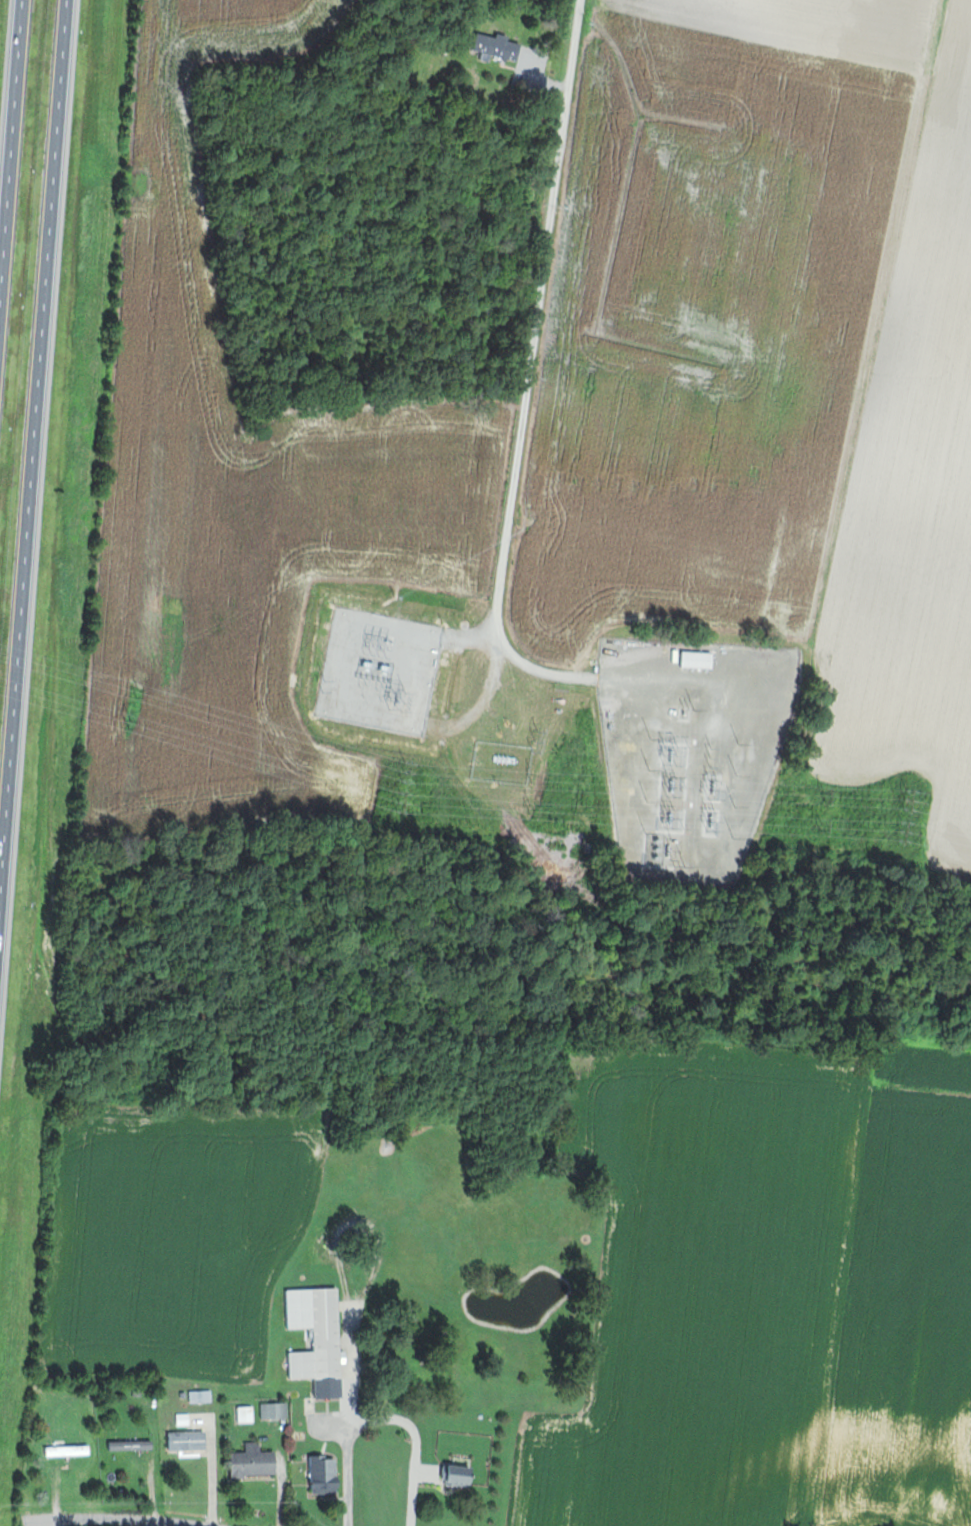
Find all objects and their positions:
building: (498, 47)
road: (12, 163)
road: (533, 344)
road: (36, 484)
building: (698, 660)
power substation: (381, 671)
power tower: (326, 685)
power tower: (139, 693)
power tower: (398, 701)
power tower: (130, 723)
power tower: (537, 742)
power substation: (693, 748)
power tower: (673, 755)
power tower: (405, 772)
power tower: (533, 780)
power tower: (672, 785)
power tower: (713, 791)
power tower: (825, 796)
power tower: (906, 800)
power tower: (399, 803)
power tower: (532, 809)
power tower: (671, 816)
power tower: (712, 821)
power tower: (822, 826)
power tower: (901, 830)
building: (319, 1339)
road: (386, 1418)
building: (189, 1441)
building: (255, 1462)
building: (327, 1471)
building: (459, 1476)
road: (106, 1522)

